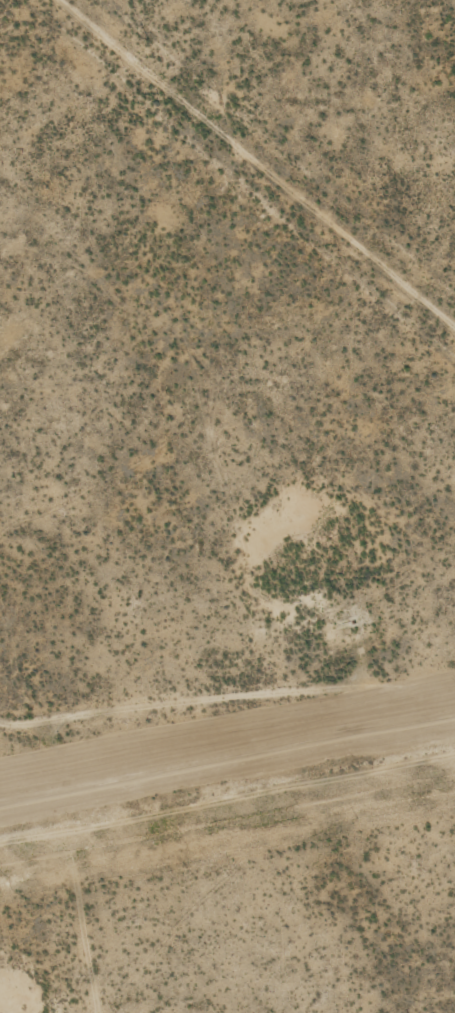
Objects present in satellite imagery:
road: (10, 3)
road: (206, 723)

